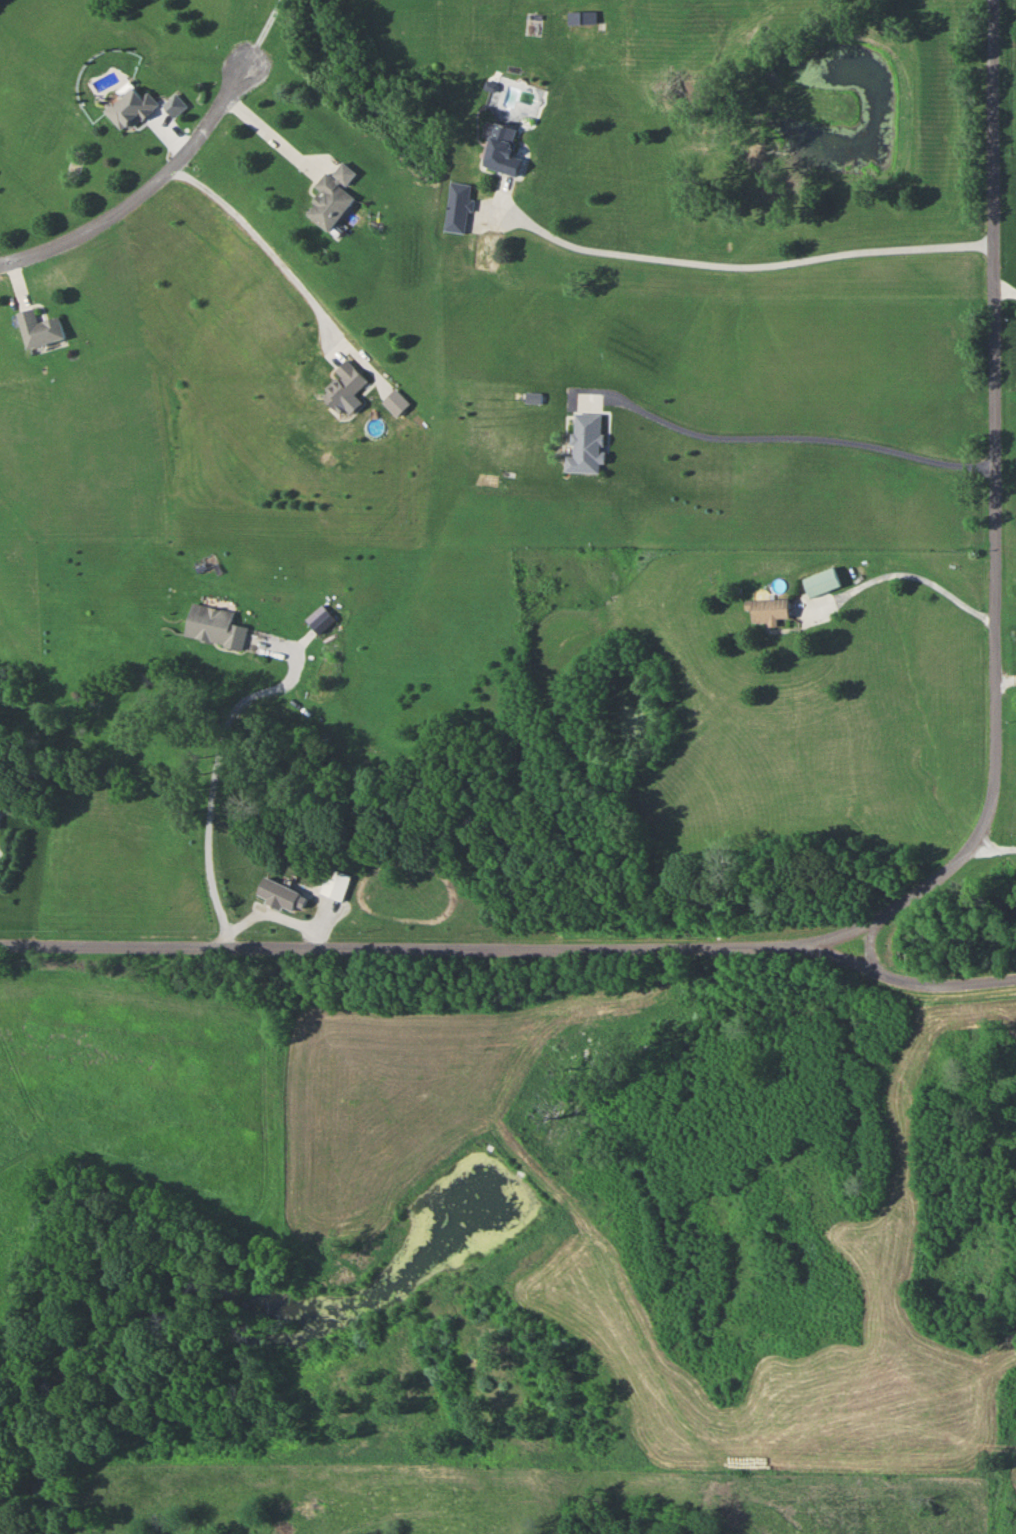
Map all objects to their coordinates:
building: (579, 17)
building: (129, 107)
road: (275, 138)
building: (501, 148)
road: (171, 165)
building: (330, 196)
building: (454, 206)
road: (254, 245)
road: (737, 261)
building: (38, 328)
building: (342, 384)
building: (394, 401)
road: (811, 437)
building: (585, 443)
road: (994, 509)
road: (915, 576)
building: (820, 581)
building: (766, 610)
building: (213, 626)
road: (1006, 680)
road: (221, 779)
road: (995, 845)
building: (335, 883)
building: (277, 893)
road: (511, 946)

